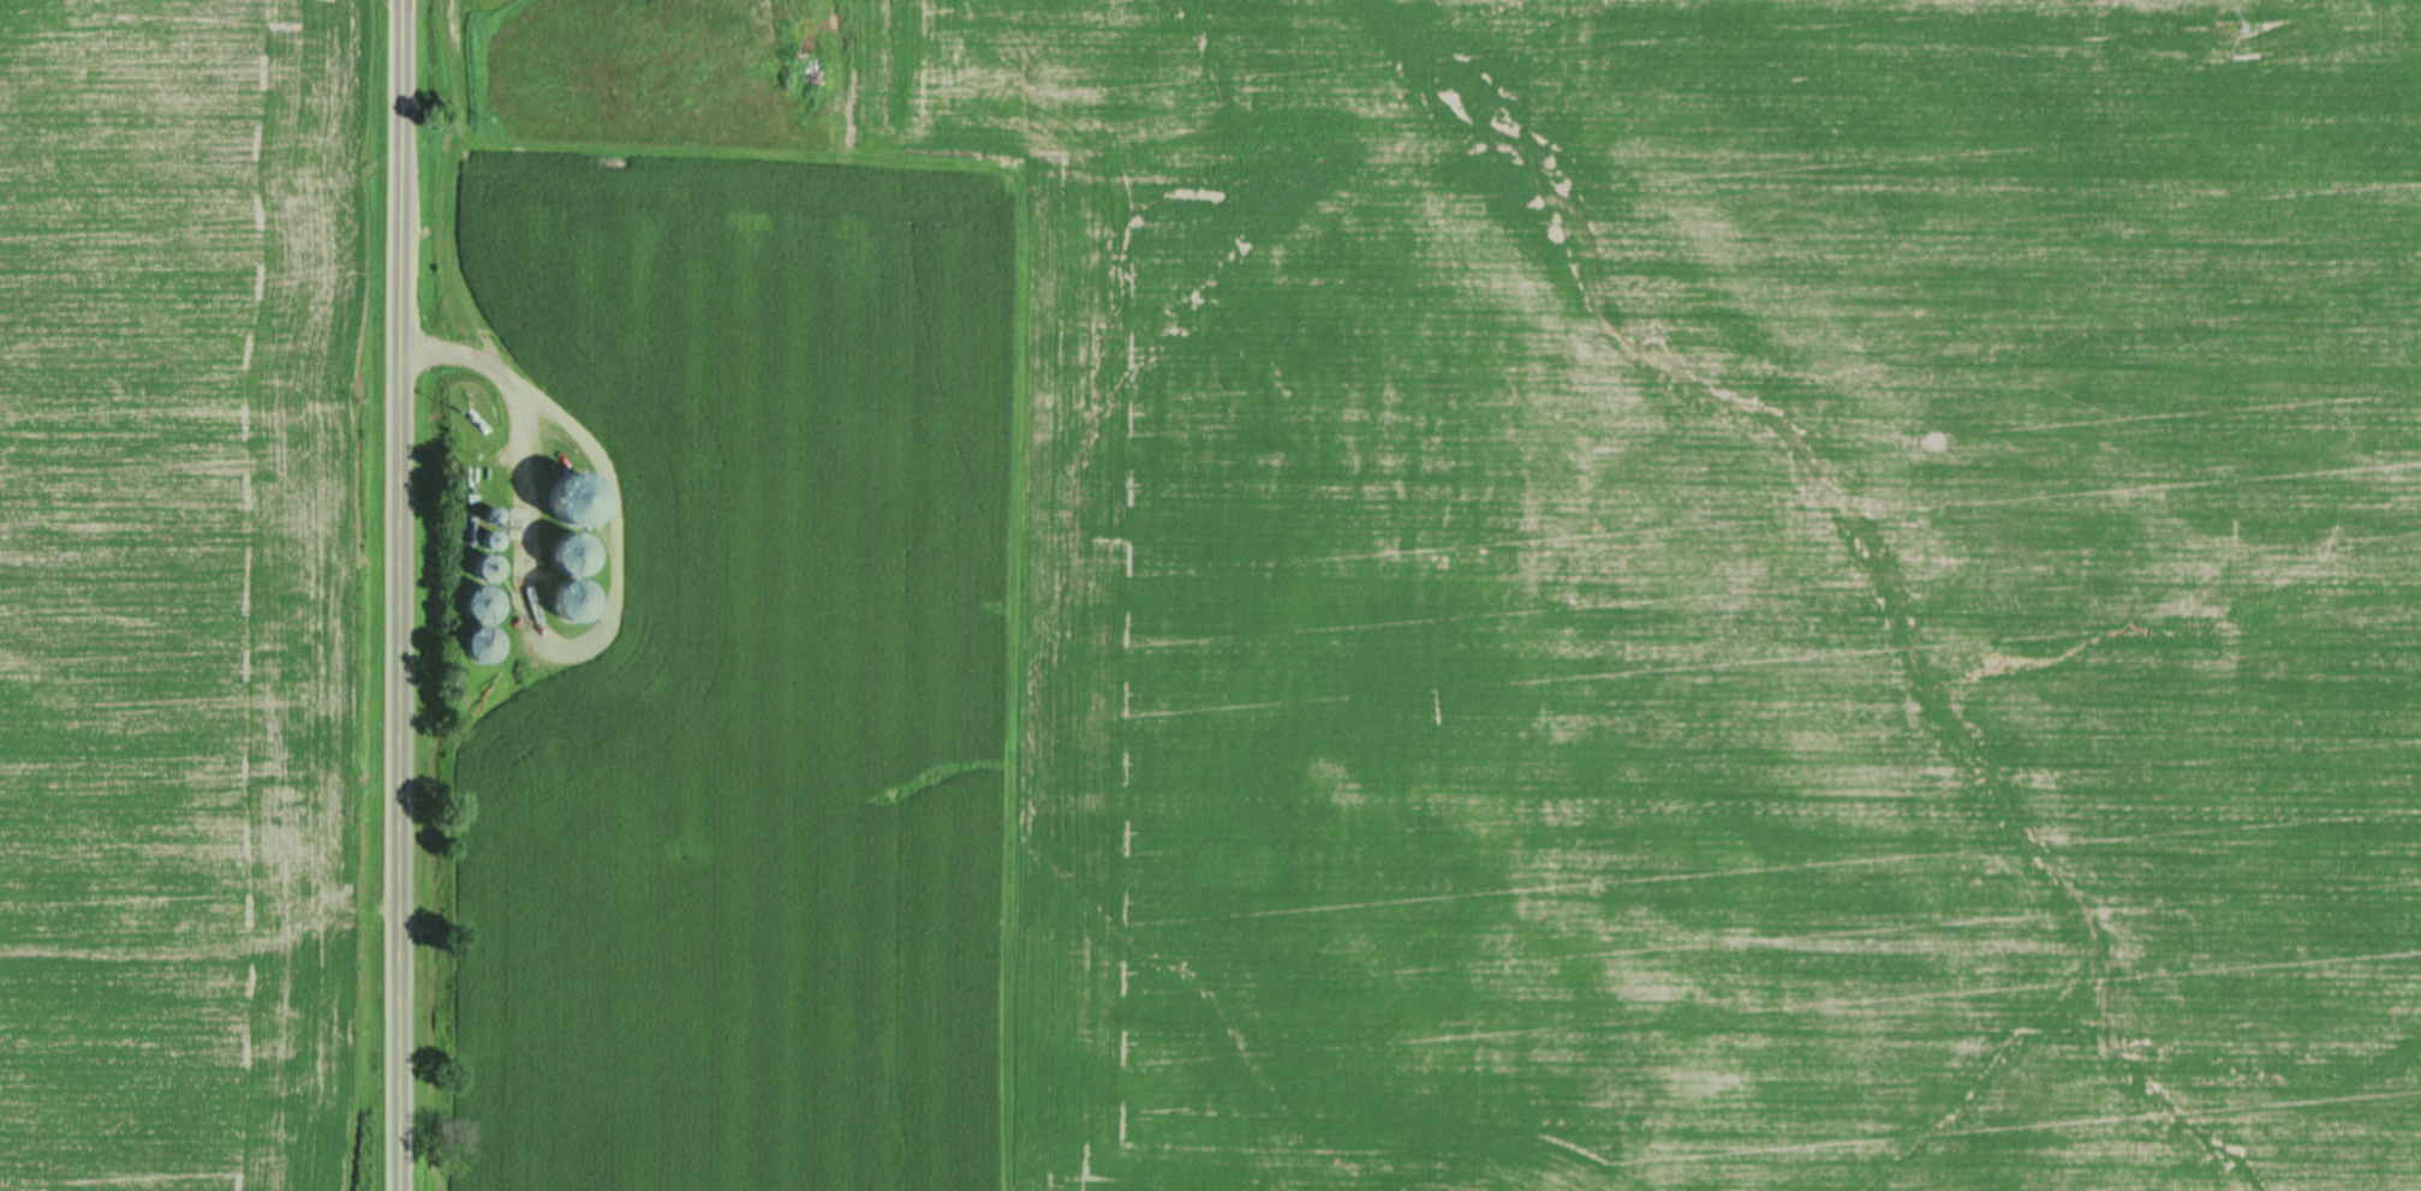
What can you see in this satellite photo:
silo: (481, 514)
silo: (484, 539)
silo: (561, 551)
building: (562, 552)
silo: (479, 567)
building: (483, 567)
road: (404, 594)
silo: (562, 598)
building: (568, 598)
silo: (471, 604)
building: (475, 621)
silo: (470, 642)

